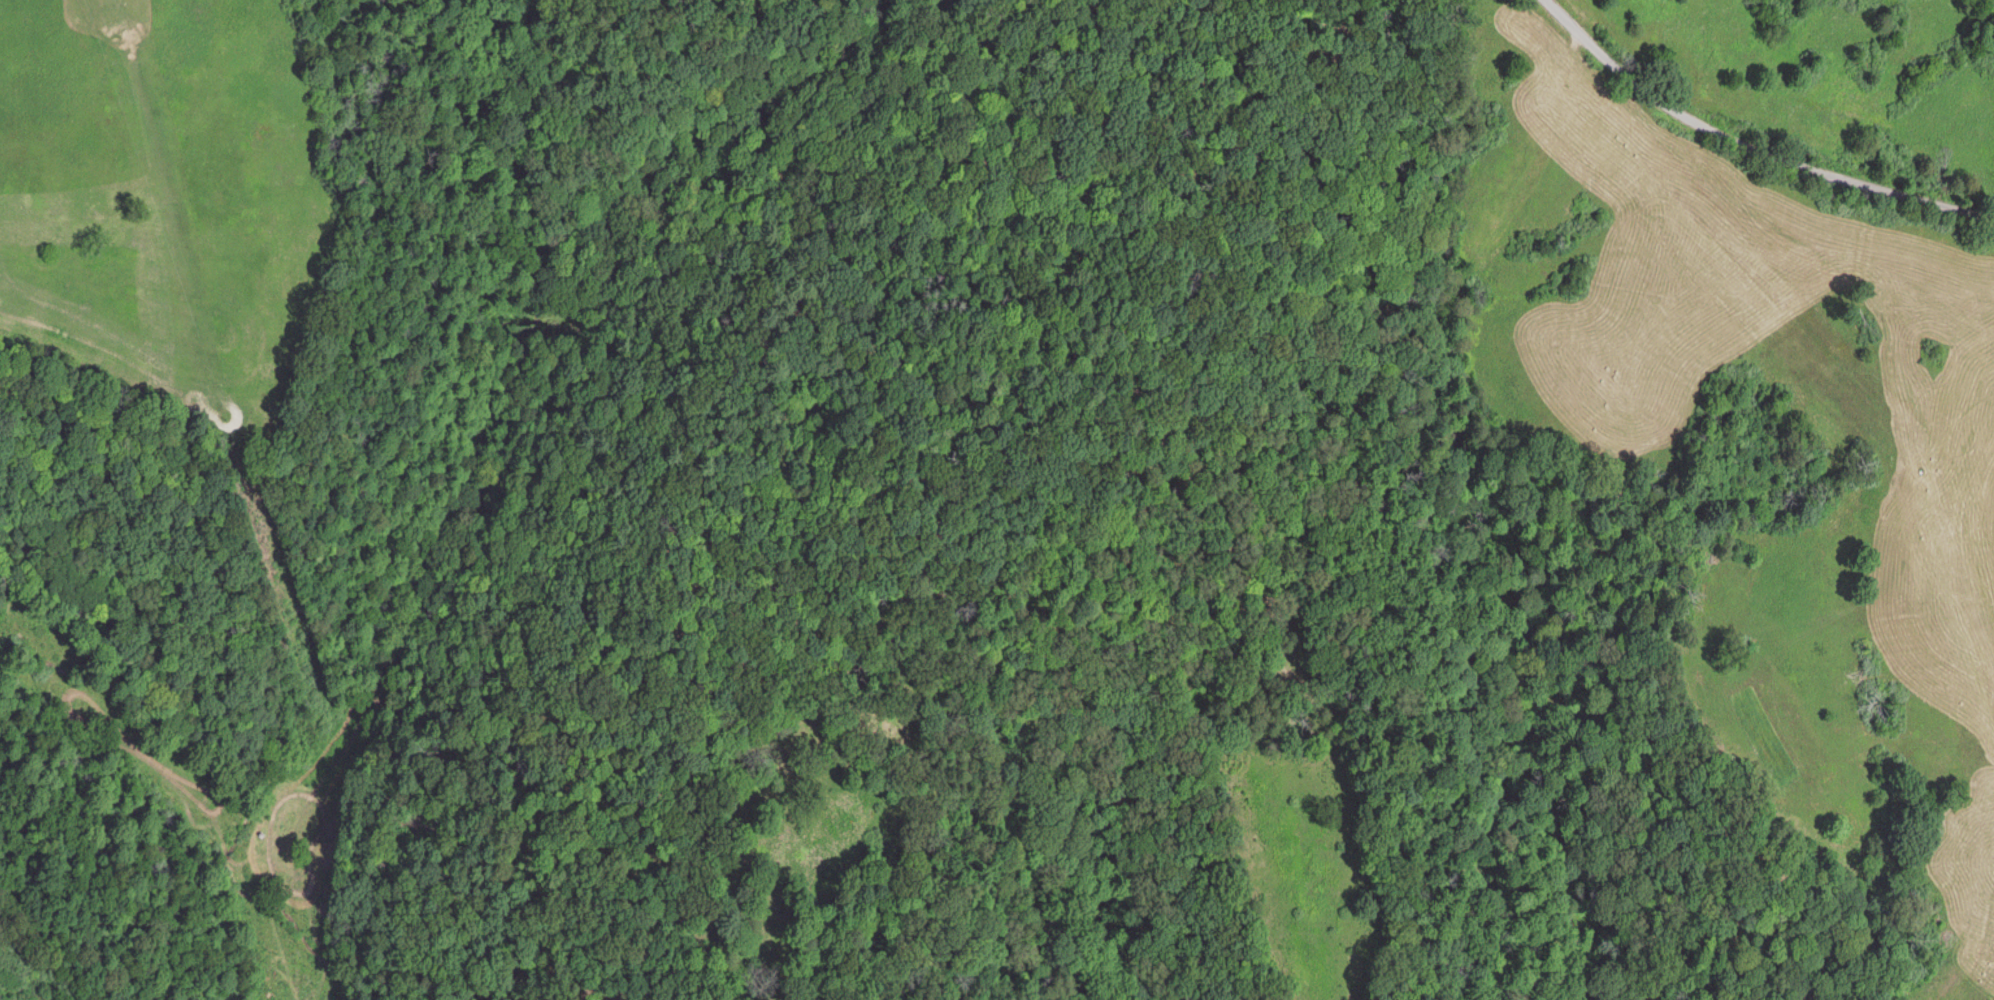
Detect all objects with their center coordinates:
road: (1752, 146)

